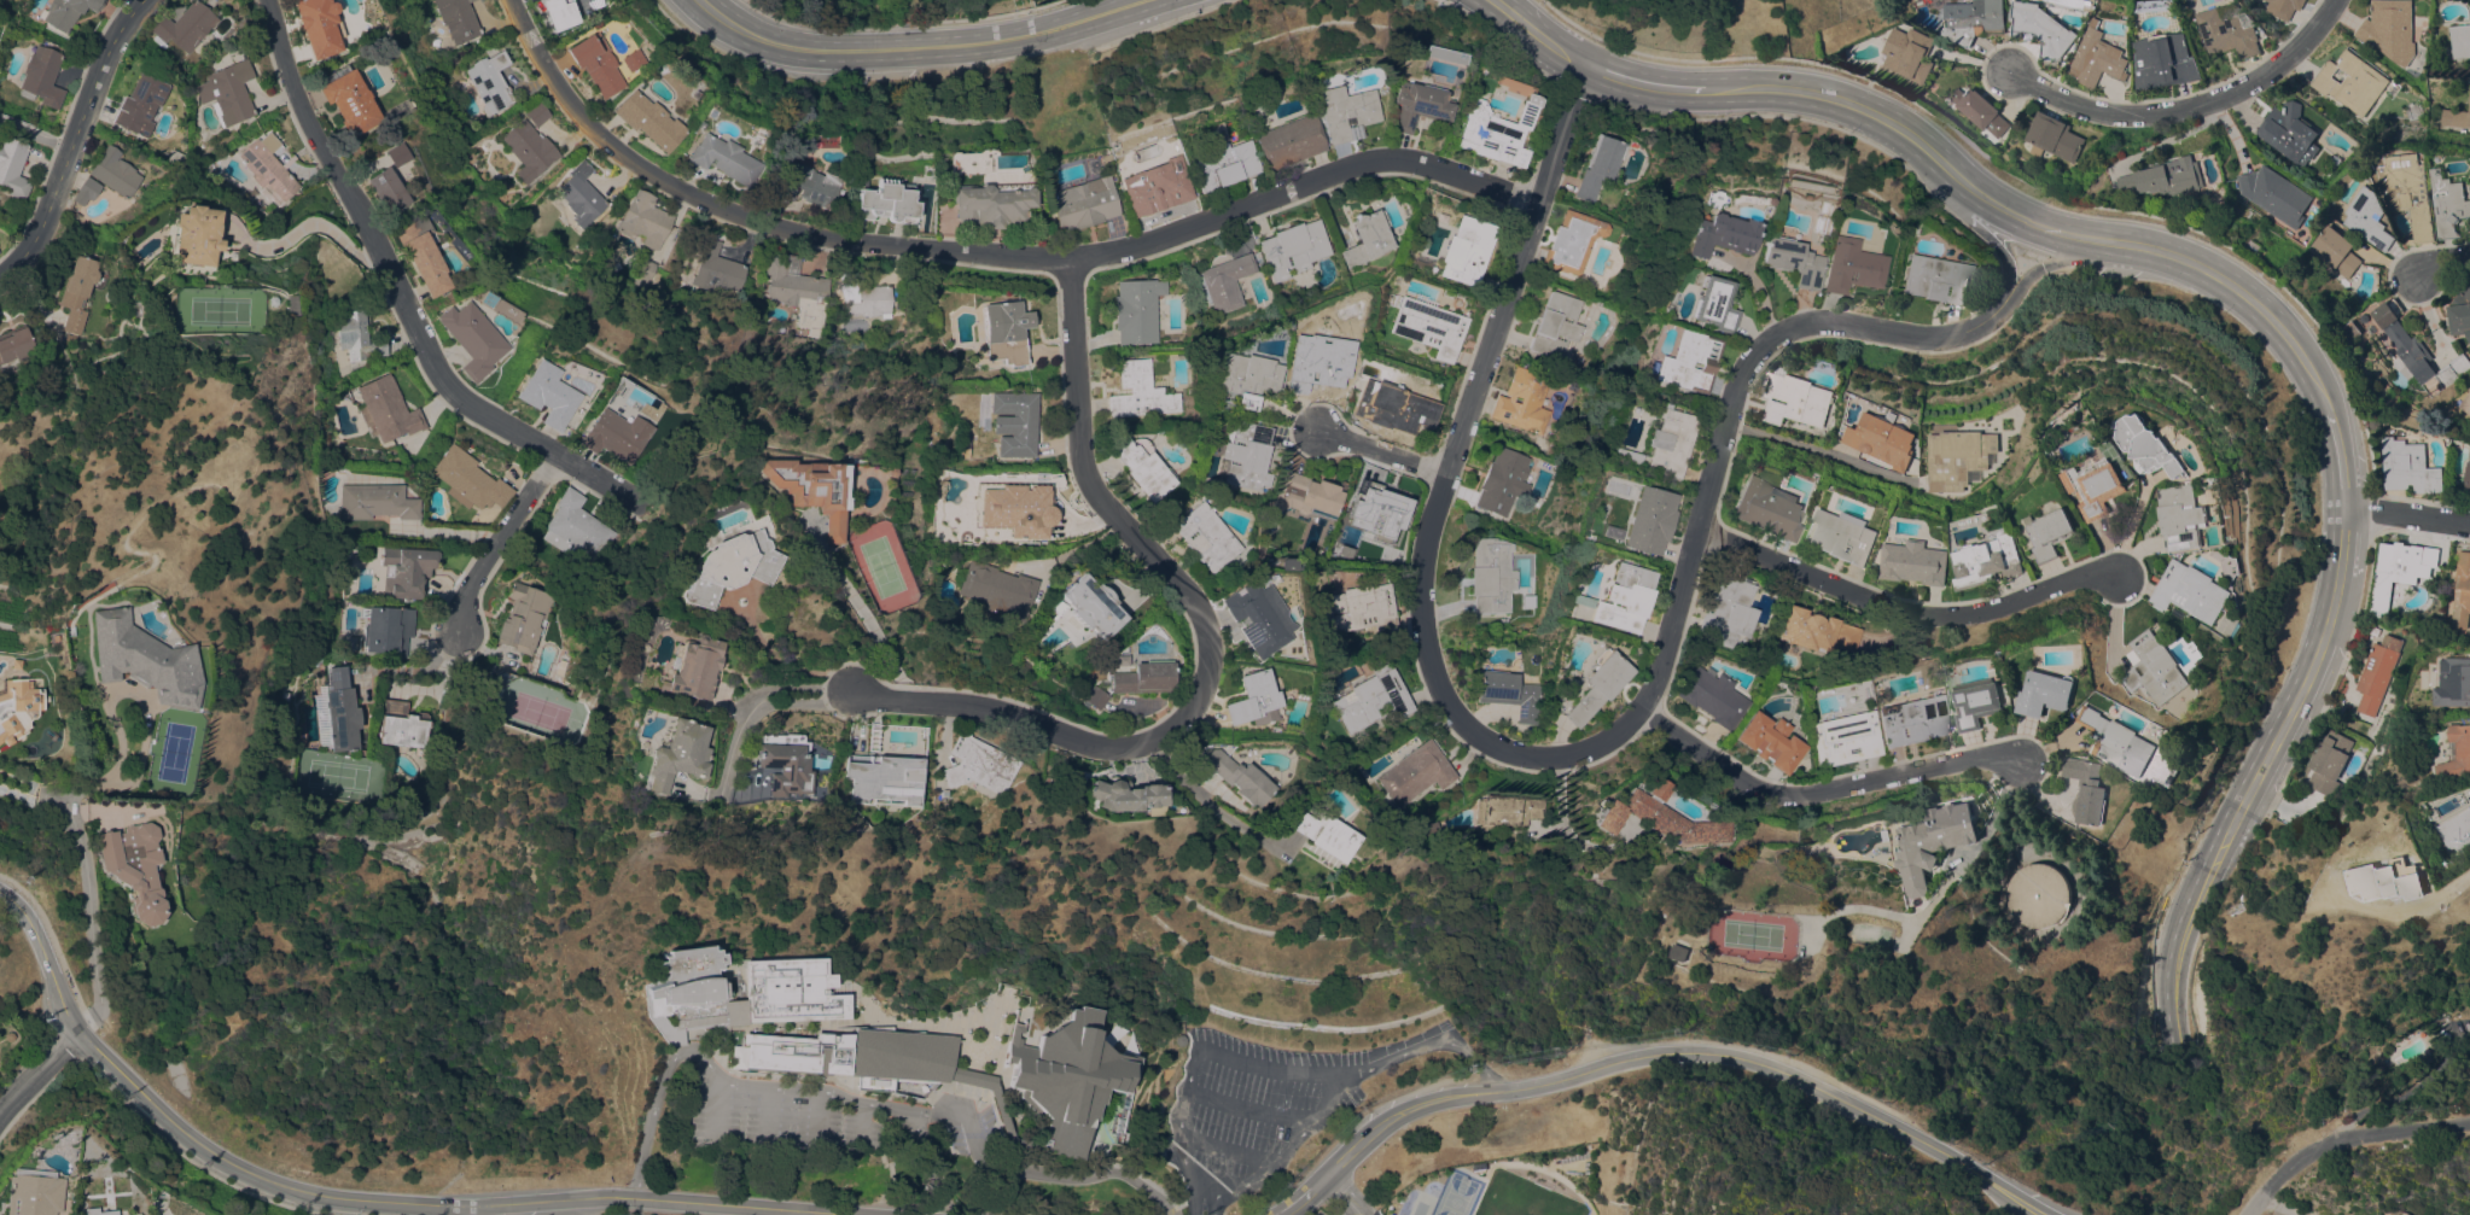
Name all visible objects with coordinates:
building: (602, 7)
building: (2283, 7)
building: (66, 12)
building: (559, 12)
building: (456, 19)
building: (1974, 19)
building: (318, 25)
building: (183, 27)
building: (2043, 28)
building: (2389, 29)
building: (2227, 33)
road: (1538, 34)
building: (2459, 40)
road: (924, 47)
building: (1909, 53)
building: (2098, 57)
building: (631, 60)
building: (2165, 60)
building: (595, 64)
building: (41, 76)
building: (2350, 81)
building: (490, 82)
road: (1643, 86)
building: (227, 93)
building: (694, 93)
building: (193, 99)
building: (348, 99)
building: (139, 104)
building: (1415, 105)
road: (1853, 105)
building: (1979, 110)
road: (2192, 110)
building: (1341, 112)
building: (536, 113)
building: (2456, 117)
building: (649, 121)
building: (700, 125)
building: (1495, 132)
building: (2289, 133)
road: (35, 135)
building: (2052, 136)
road: (72, 141)
building: (1286, 142)
building: (757, 144)
building: (529, 150)
building: (395, 154)
building: (1102, 158)
building: (174, 159)
building: (724, 159)
building: (779, 159)
building: (1221, 164)
building: (12, 167)
building: (1597, 167)
building: (268, 169)
building: (115, 173)
building: (2166, 177)
building: (805, 185)
building: (1154, 187)
building: (385, 189)
building: (86, 191)
building: (2408, 191)
building: (2274, 194)
building: (581, 195)
building: (885, 201)
building: (2448, 203)
building: (990, 204)
building: (1082, 204)
building: (2366, 217)
building: (645, 220)
road: (299, 226)
road: (2041, 228)
building: (1718, 235)
building: (194, 236)
building: (1363, 239)
road: (1998, 239)
building: (1572, 241)
building: (1291, 249)
building: (1466, 250)
building: (2336, 250)
building: (421, 253)
road: (988, 255)
building: (1790, 261)
road: (2060, 262)
road: (2443, 265)
building: (1849, 267)
building: (716, 269)
building: (645, 271)
road: (2215, 274)
building: (1935, 279)
building: (1224, 282)
road: (389, 287)
building: (796, 291)
building: (76, 292)
building: (867, 300)
building: (1711, 304)
building: (1136, 310)
building: (2459, 314)
building: (1555, 326)
building: (1346, 327)
building: (1428, 327)
building: (2350, 329)
building: (1004, 332)
building: (356, 335)
building: (471, 339)
building: (14, 346)
building: (2411, 350)
building: (1687, 362)
building: (1311, 364)
building: (2458, 366)
road: (2313, 374)
building: (1246, 379)
building: (2399, 379)
building: (1140, 392)
building: (546, 395)
building: (1795, 398)
building: (1522, 401)
building: (2465, 402)
road: (1736, 403)
building: (1386, 407)
building: (385, 410)
building: (1014, 424)
building: (1218, 430)
building: (613, 434)
building: (1882, 439)
building: (1668, 442)
building: (2148, 445)
road: (1822, 452)
road: (1381, 455)
road: (2343, 455)
building: (1243, 456)
building: (1623, 456)
building: (1958, 457)
building: (2408, 466)
building: (1143, 467)
building: (2468, 478)
building: (468, 480)
building: (1502, 481)
building: (2097, 486)
building: (809, 490)
road: (1446, 491)
building: (1306, 496)
building: (375, 502)
building: (1013, 508)
building: (1767, 508)
building: (1376, 510)
road: (2408, 512)
building: (2181, 515)
building: (1648, 520)
building: (576, 527)
building: (2049, 532)
building: (1841, 536)
building: (1206, 538)
road: (2342, 541)
road: (1077, 547)
road: (494, 549)
building: (1987, 560)
building: (1913, 561)
building: (727, 567)
building: (2396, 569)
building: (406, 571)
building: (1490, 576)
building: (997, 590)
building: (2191, 590)
building: (2462, 591)
building: (1623, 598)
building: (1093, 606)
road: (1910, 606)
road: (855, 609)
building: (1359, 609)
building: (1726, 611)
building: (1258, 617)
building: (523, 618)
building: (2230, 624)
building: (68, 630)
building: (388, 630)
building: (1814, 631)
building: (2214, 631)
road: (1208, 646)
building: (2130, 653)
road: (2315, 653)
building: (142, 656)
building: (318, 661)
building: (16, 664)
building: (2156, 667)
building: (692, 670)
building: (2377, 672)
building: (1144, 678)
building: (2453, 682)
building: (1596, 685)
building: (2045, 691)
building: (1508, 694)
building: (285, 695)
building: (1712, 696)
building: (1095, 697)
building: (1369, 699)
road: (765, 700)
building: (1253, 700)
building: (1976, 702)
building: (18, 707)
road: (146, 708)
building: (340, 709)
building: (1911, 719)
building: (402, 725)
building: (1843, 738)
building: (1769, 741)
building: (2119, 741)
building: (2363, 744)
building: (2456, 753)
building: (677, 754)
building: (2329, 760)
building: (786, 765)
building: (979, 765)
building: (1415, 773)
building: (1235, 775)
building: (884, 778)
road: (31, 787)
building: (2089, 788)
road: (2249, 788)
road: (1829, 791)
building: (825, 796)
building: (1128, 796)
road: (1211, 798)
building: (1504, 811)
building: (1660, 817)
road: (1562, 829)
building: (2459, 829)
building: (1328, 836)
building: (1933, 842)
building: (135, 869)
building: (2390, 878)
building: (2325, 887)
road: (2445, 889)
building: (2039, 890)
road: (88, 899)
road: (2175, 944)
building: (1678, 951)
building: (790, 997)
road: (1676, 1051)
building: (792, 1053)
building: (901, 1059)
road: (37, 1071)
road: (1270, 1073)
building: (1060, 1080)
road: (856, 1098)
parking lot: (1268, 1104)
road: (1247, 1110)
building: (996, 1114)
road: (2346, 1140)
road: (1223, 1151)
road: (1280, 1156)
road: (1340, 1190)
building: (33, 1192)
park: (1455, 1194)
road: (350, 1198)
road: (1289, 1202)
road: (2279, 1205)
road: (586, 1207)
road: (645, 1208)
building: (98, 1211)
road: (462, 1211)
road: (1350, 1211)
road: (1359, 1211)
power substation: (2406, 1213)

